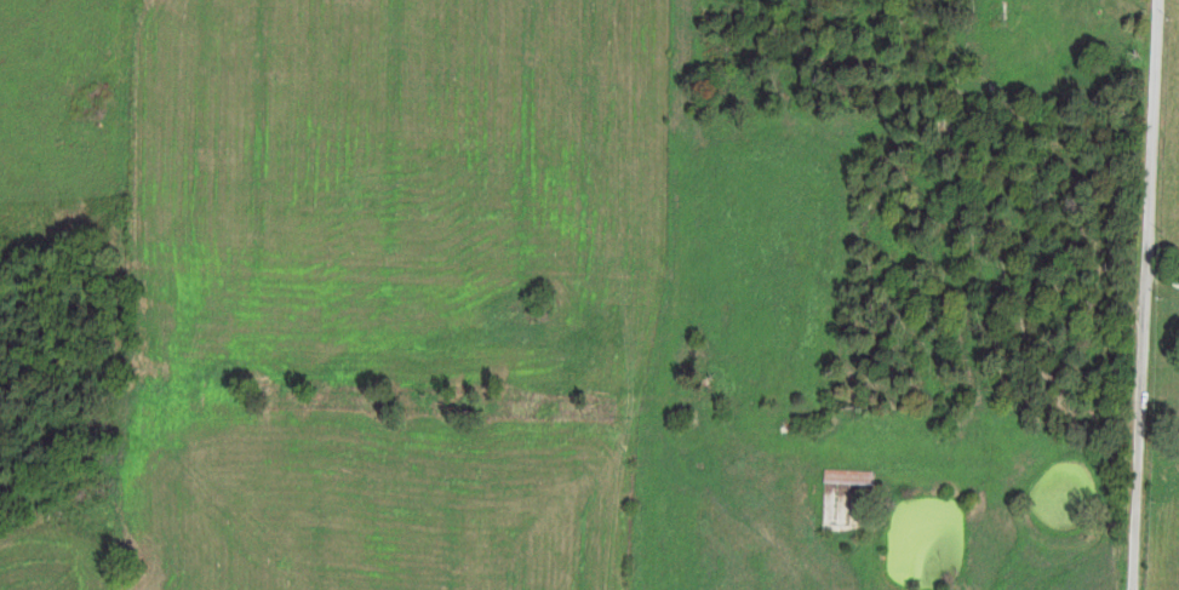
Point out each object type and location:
road: (1161, 279)
road: (1141, 294)
building: (846, 479)

